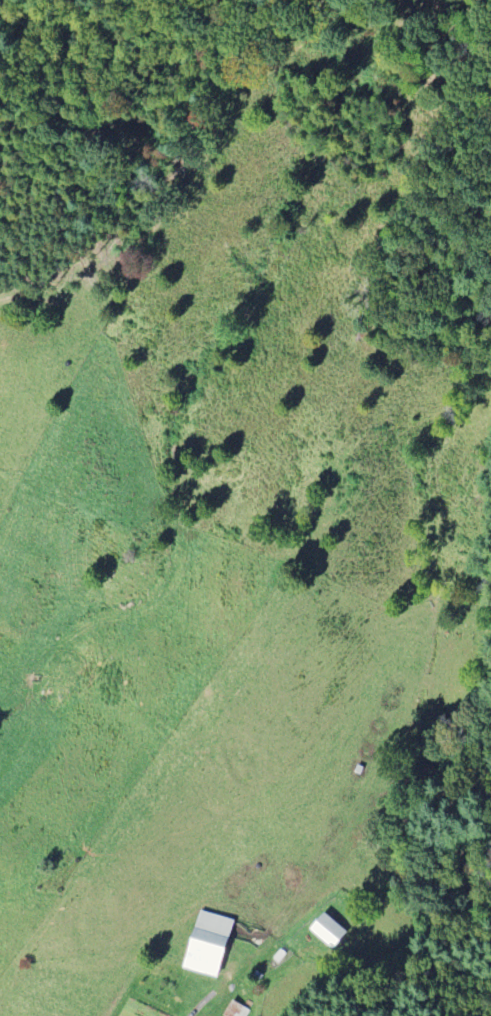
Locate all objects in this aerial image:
park: (58, 870)
building: (328, 930)
building: (208, 944)

